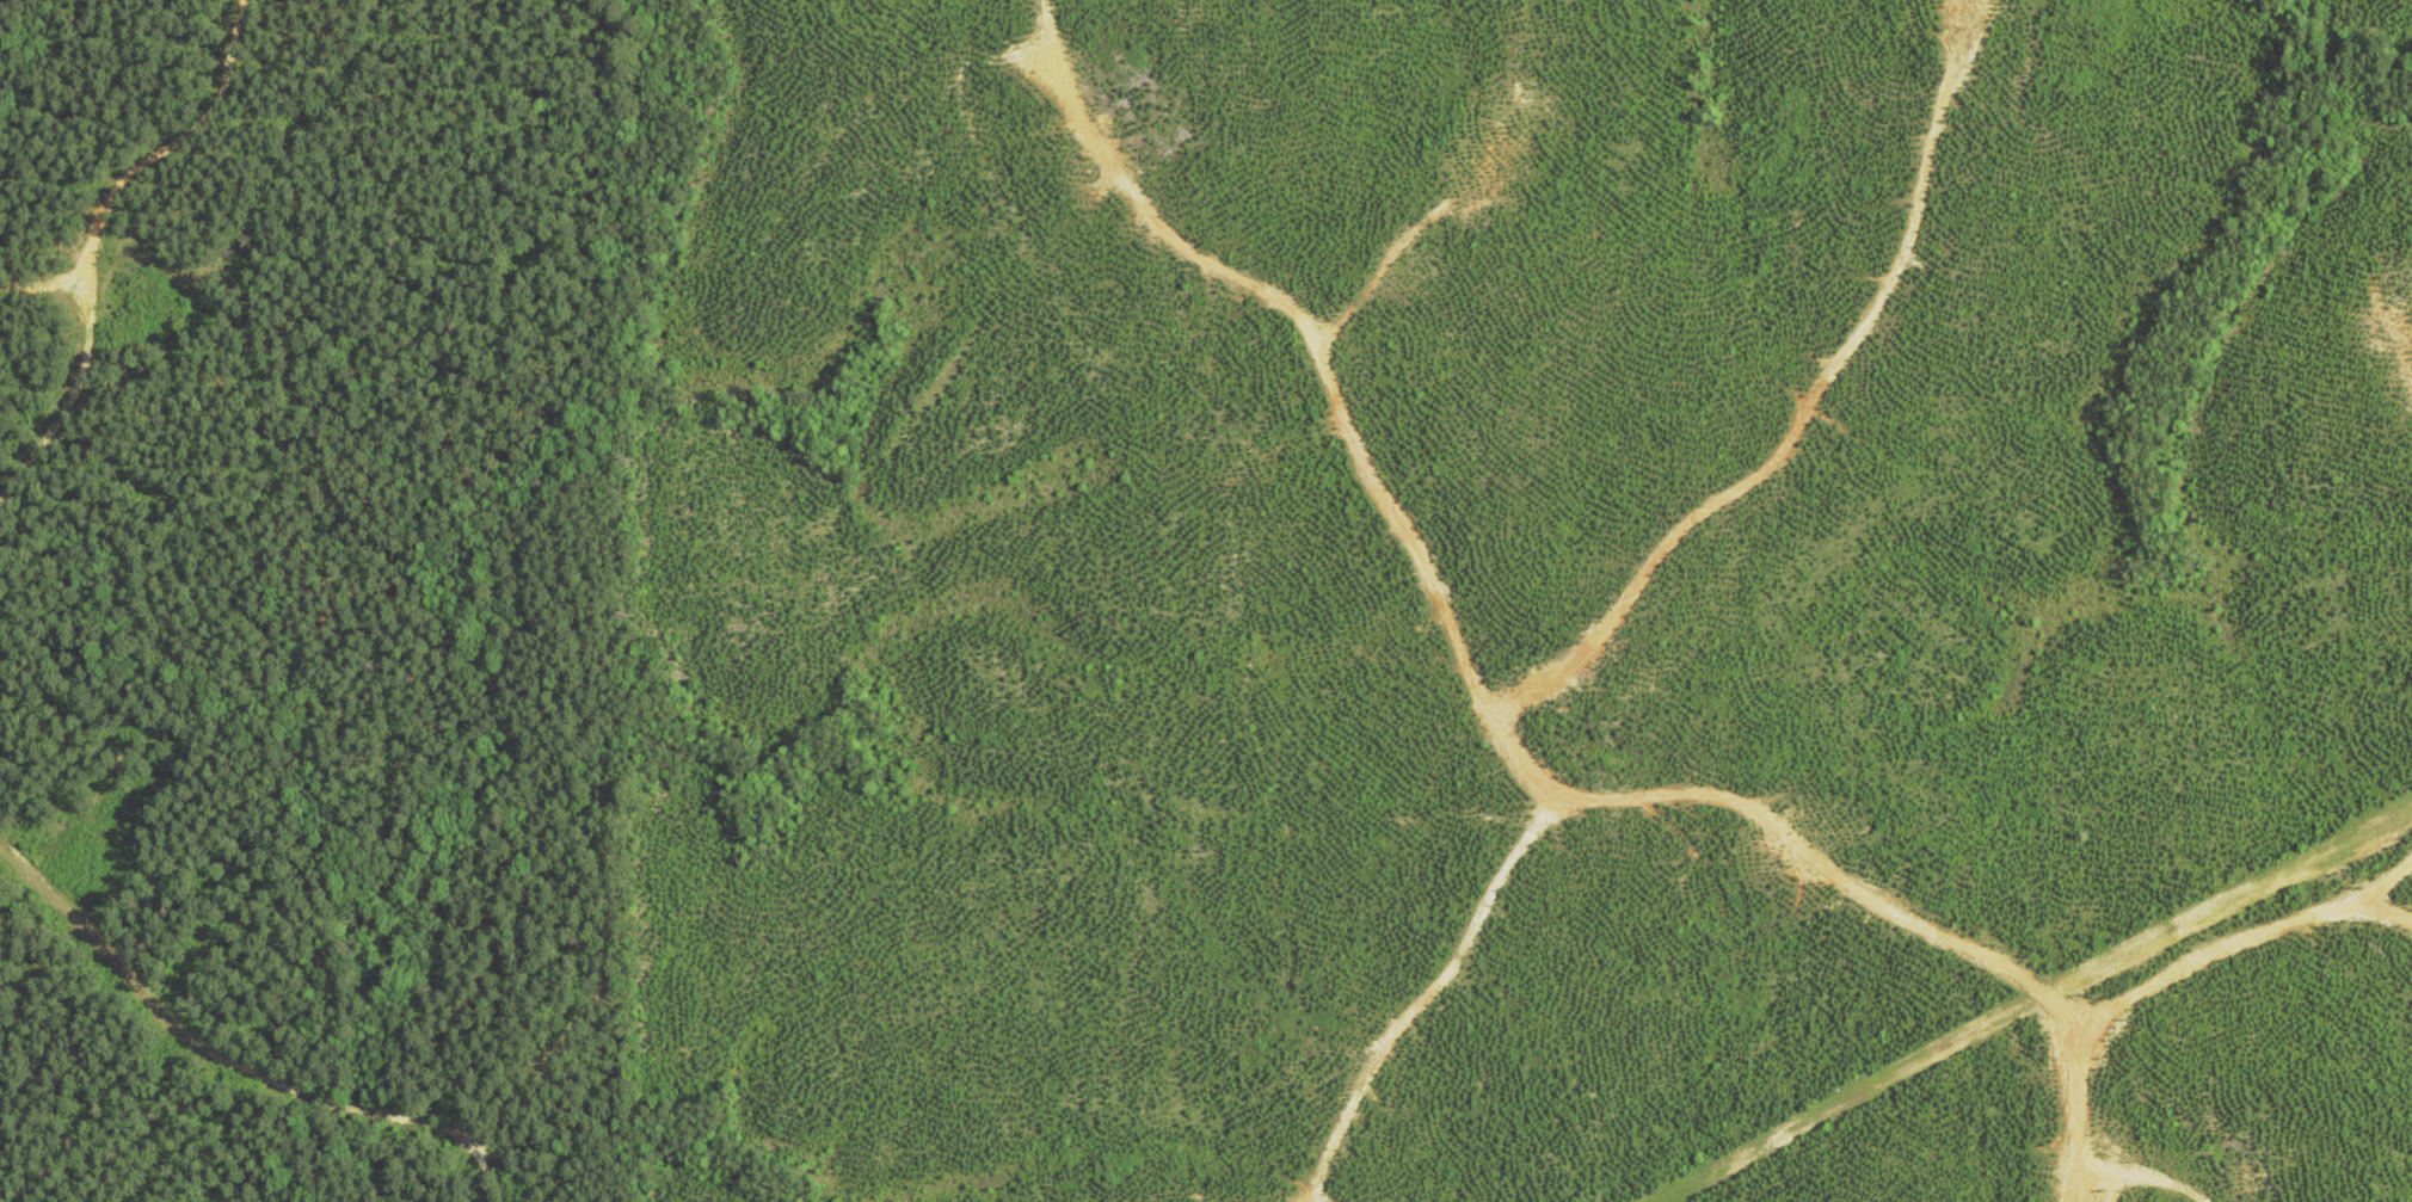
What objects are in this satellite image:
road: (1994, 1198)

